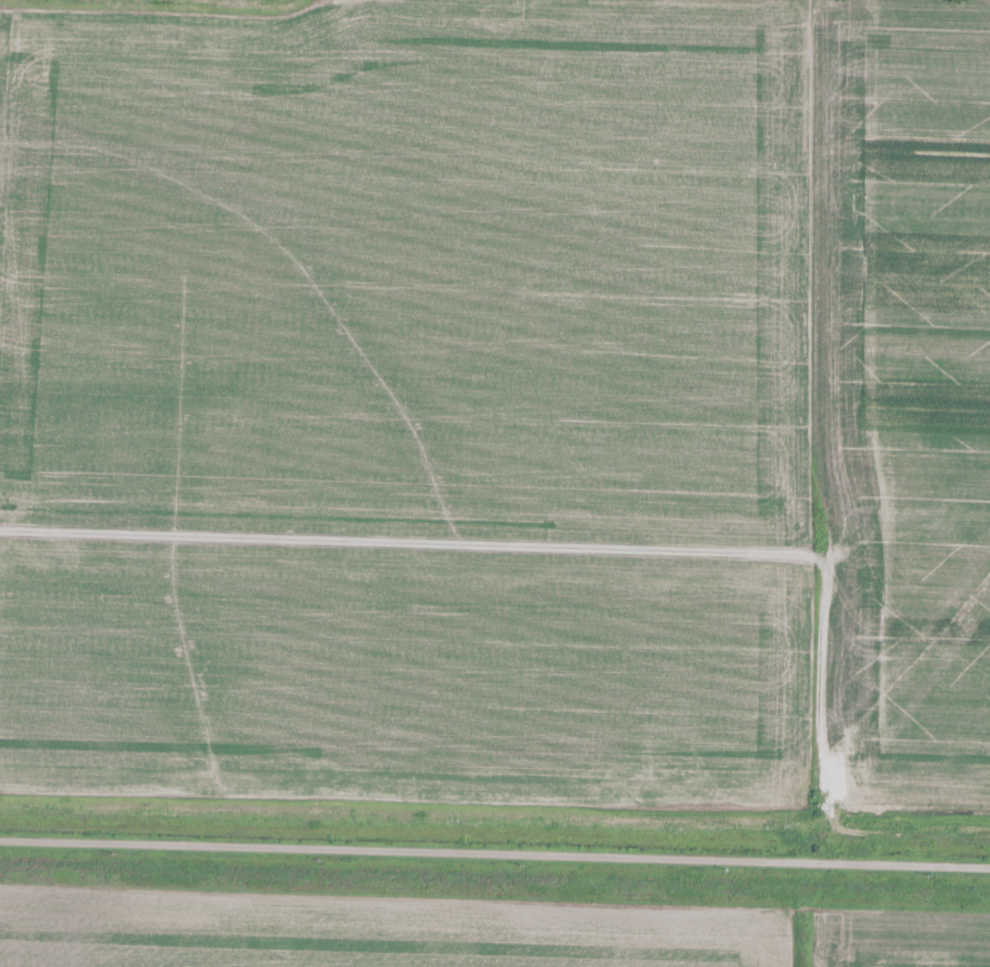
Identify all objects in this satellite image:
road: (495, 851)

